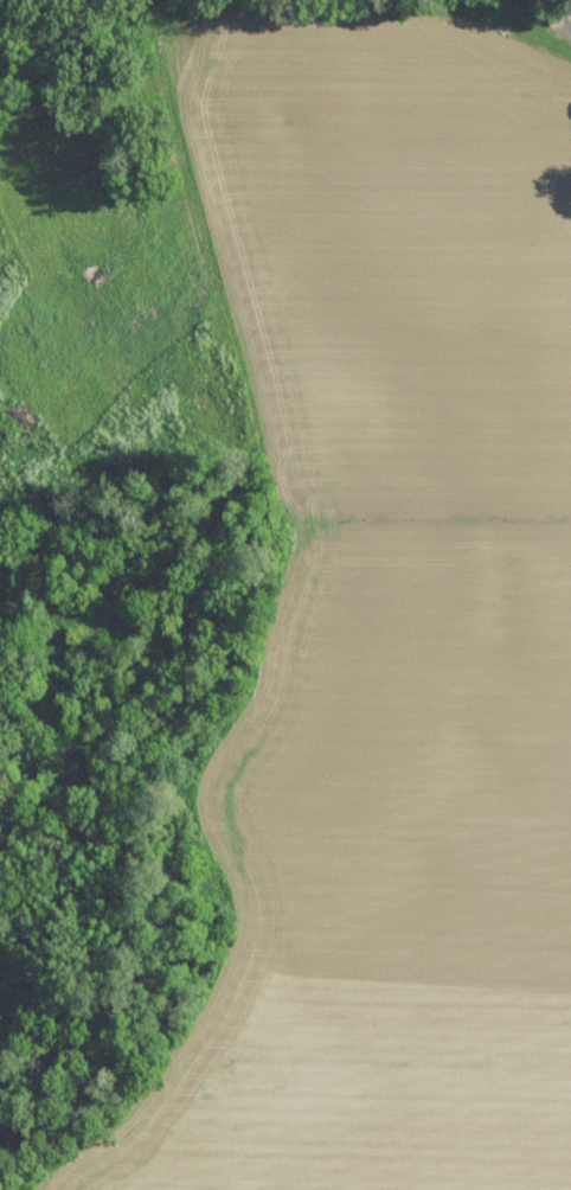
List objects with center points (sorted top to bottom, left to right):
road: (566, 27)

